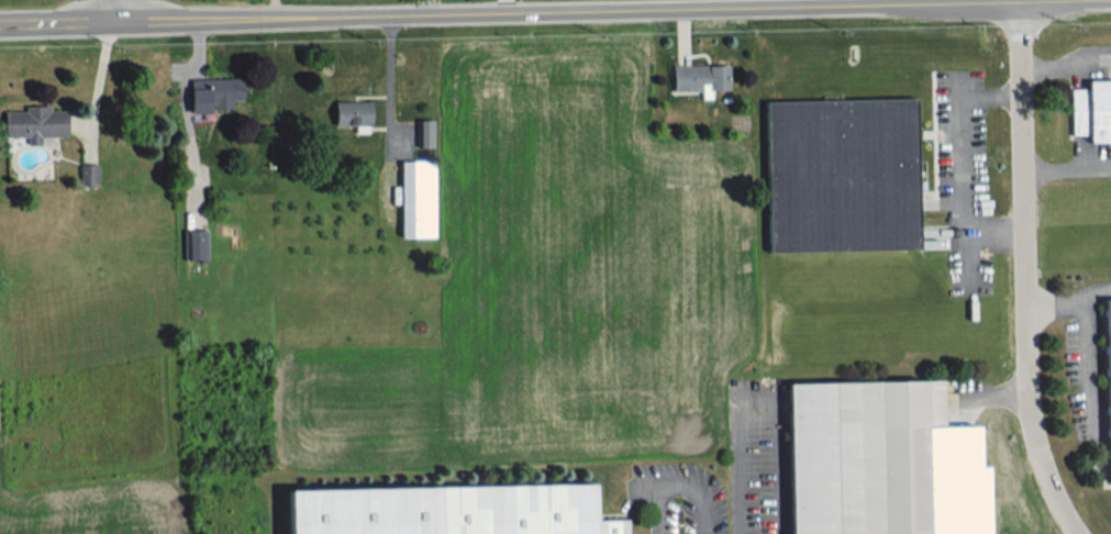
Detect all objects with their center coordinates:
road: (275, 7)
road: (116, 9)
road: (530, 10)
parking lot: (1089, 65)
building: (700, 78)
road: (388, 81)
building: (214, 92)
building: (1092, 110)
building: (352, 113)
building: (35, 123)
building: (425, 132)
parking lot: (1089, 157)
road: (960, 162)
building: (88, 174)
building: (842, 175)
parking lot: (963, 178)
building: (418, 198)
building: (198, 244)
road: (1024, 272)
road: (1069, 303)
building: (1109, 372)
road: (996, 391)
road: (756, 408)
parking lot: (758, 455)
building: (881, 460)
parking lot: (963, 479)
road: (677, 485)
parking lot: (676, 499)
building: (449, 510)

